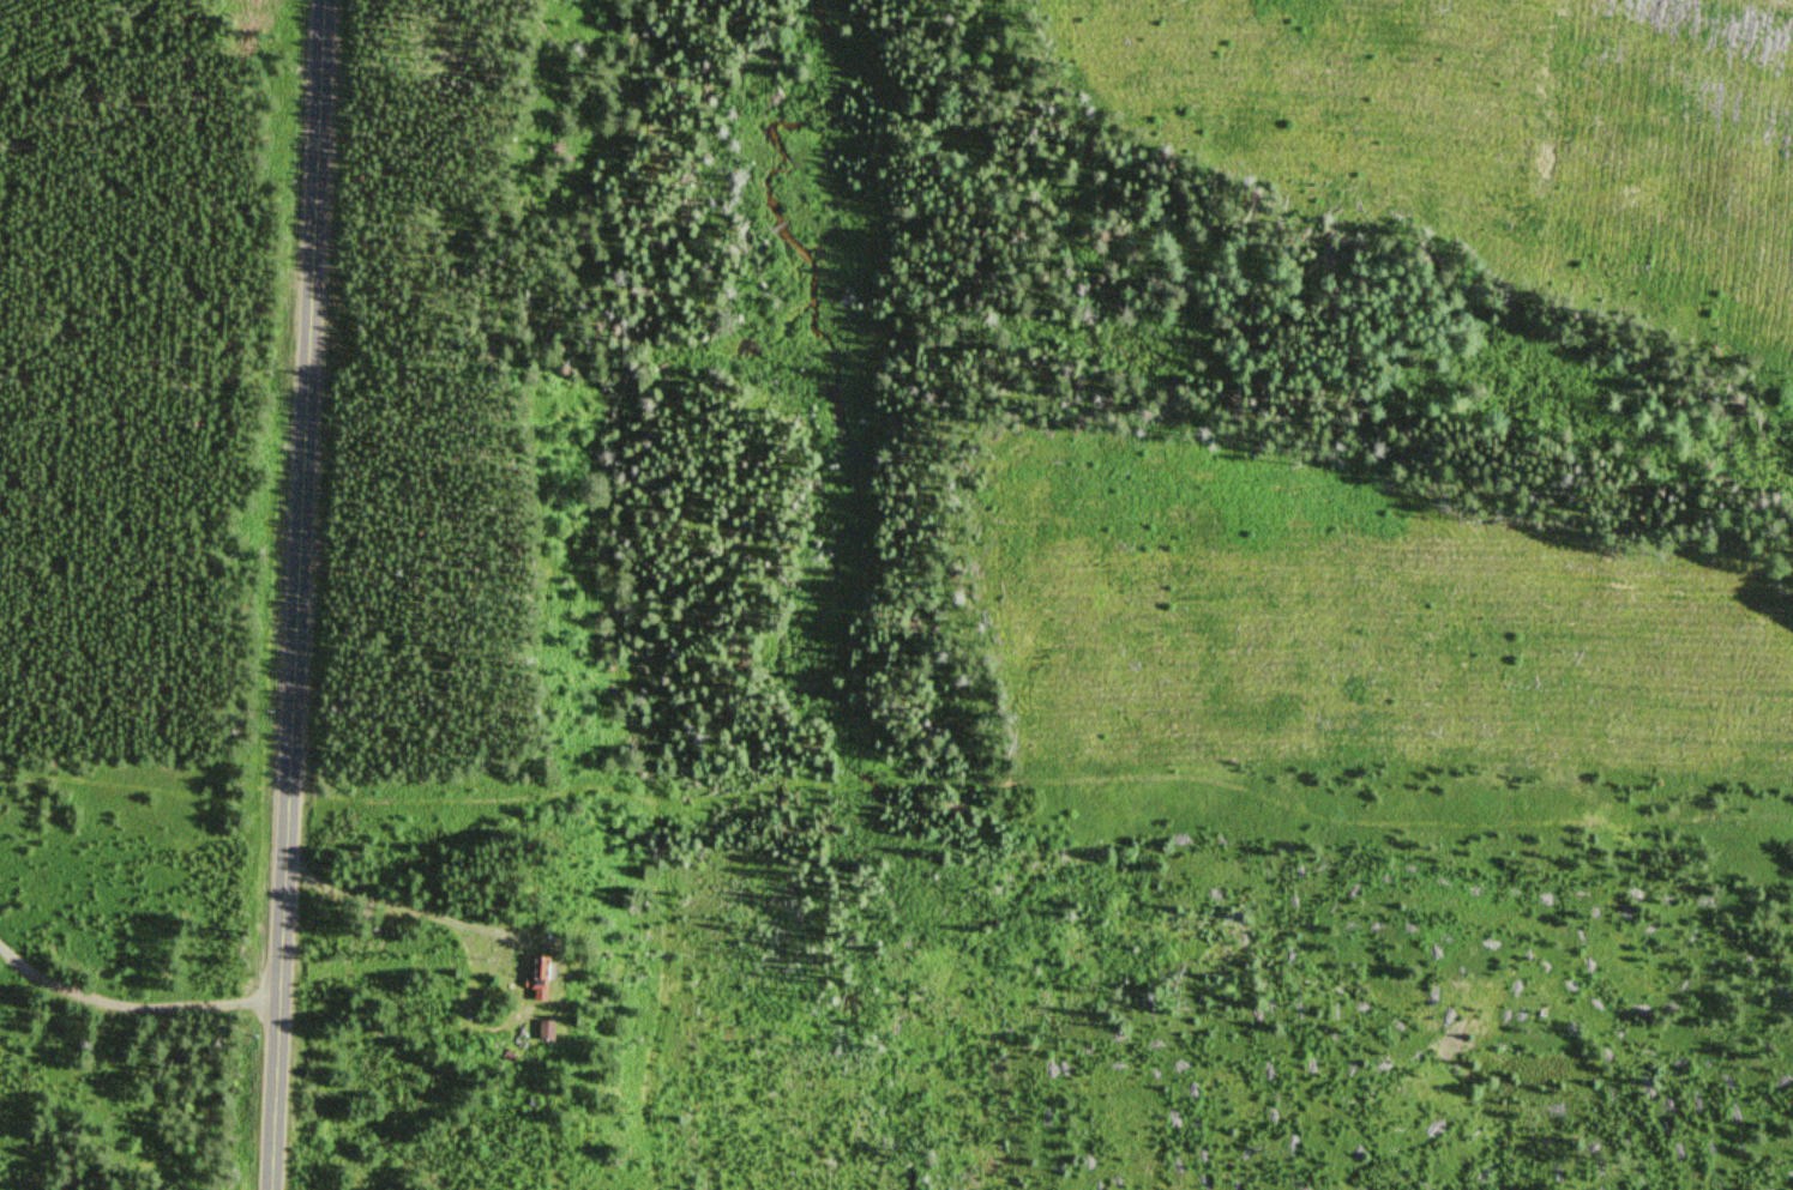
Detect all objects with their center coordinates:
road: (295, 594)
road: (1042, 772)
road: (132, 967)
building: (534, 979)
building: (538, 1028)

